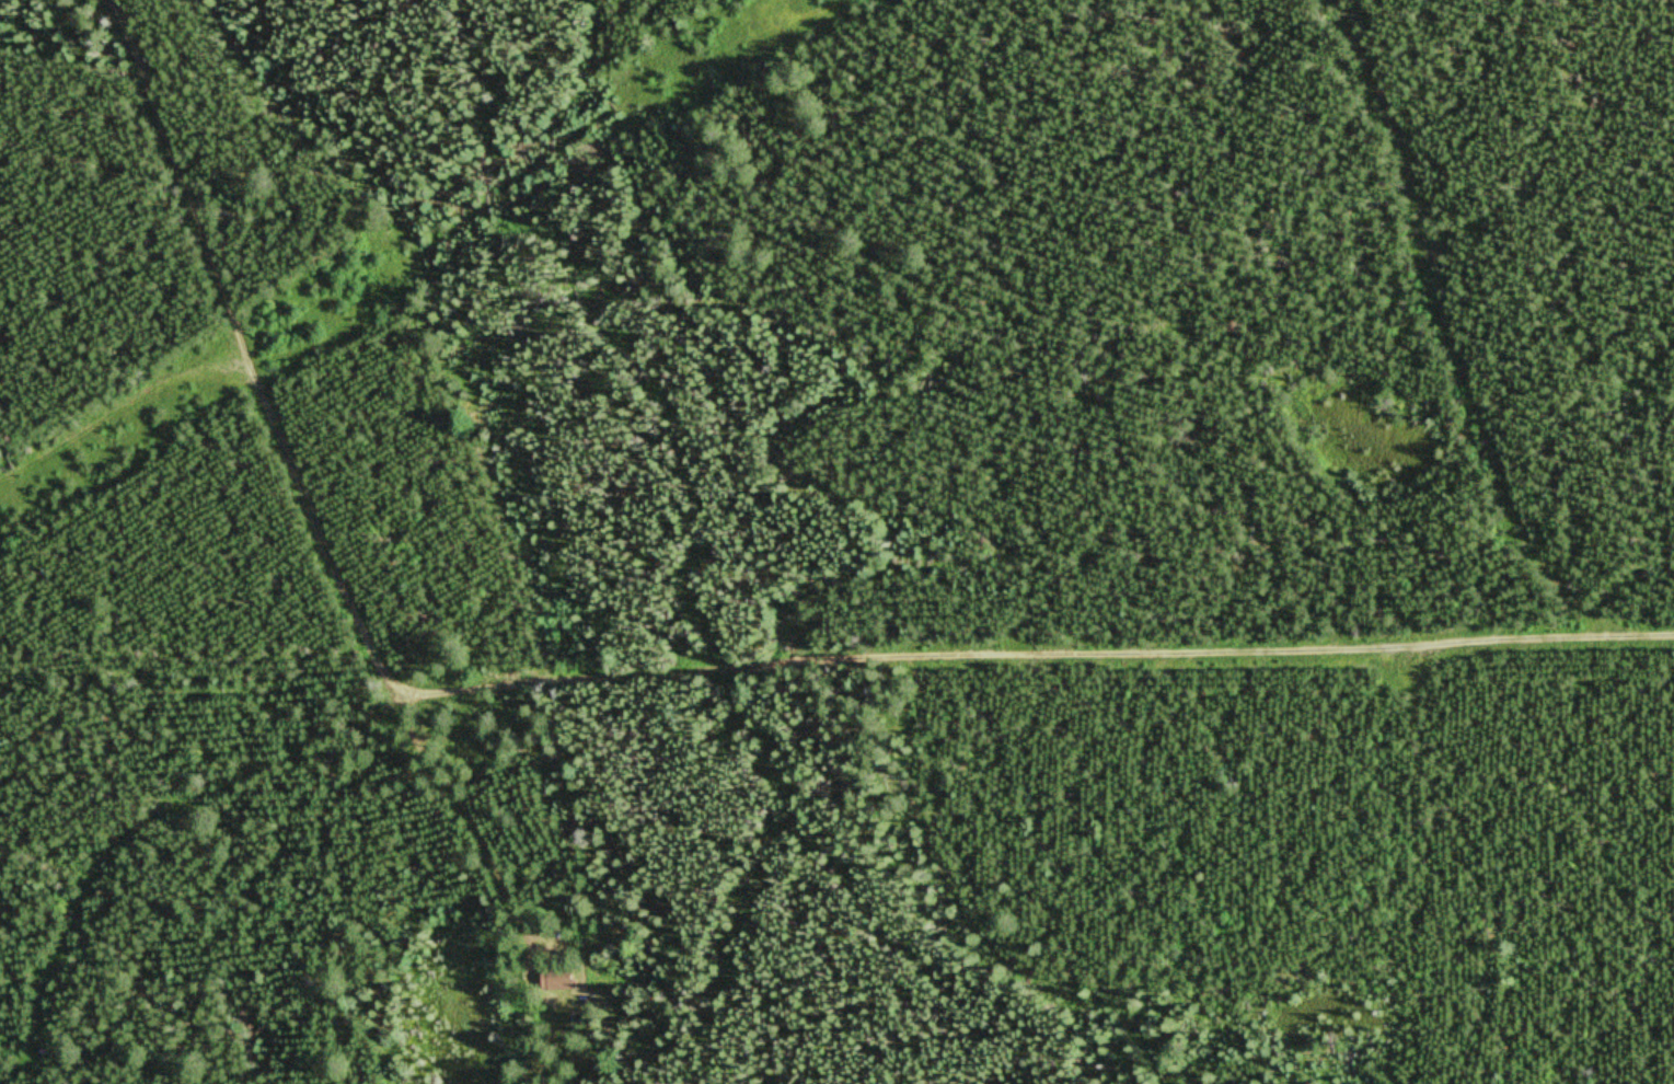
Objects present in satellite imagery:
road: (246, 355)
road: (748, 674)
building: (562, 975)

